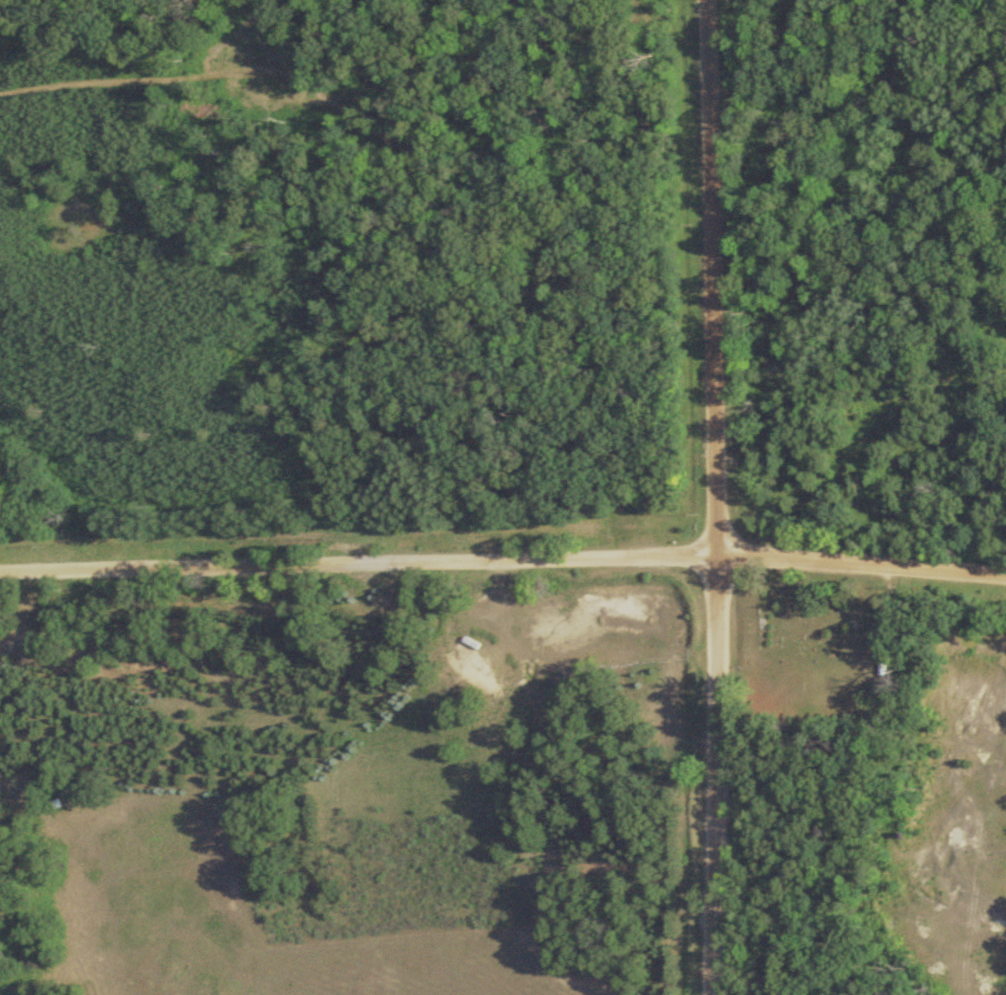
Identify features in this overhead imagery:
road: (716, 497)
road: (503, 557)
park: (812, 652)

